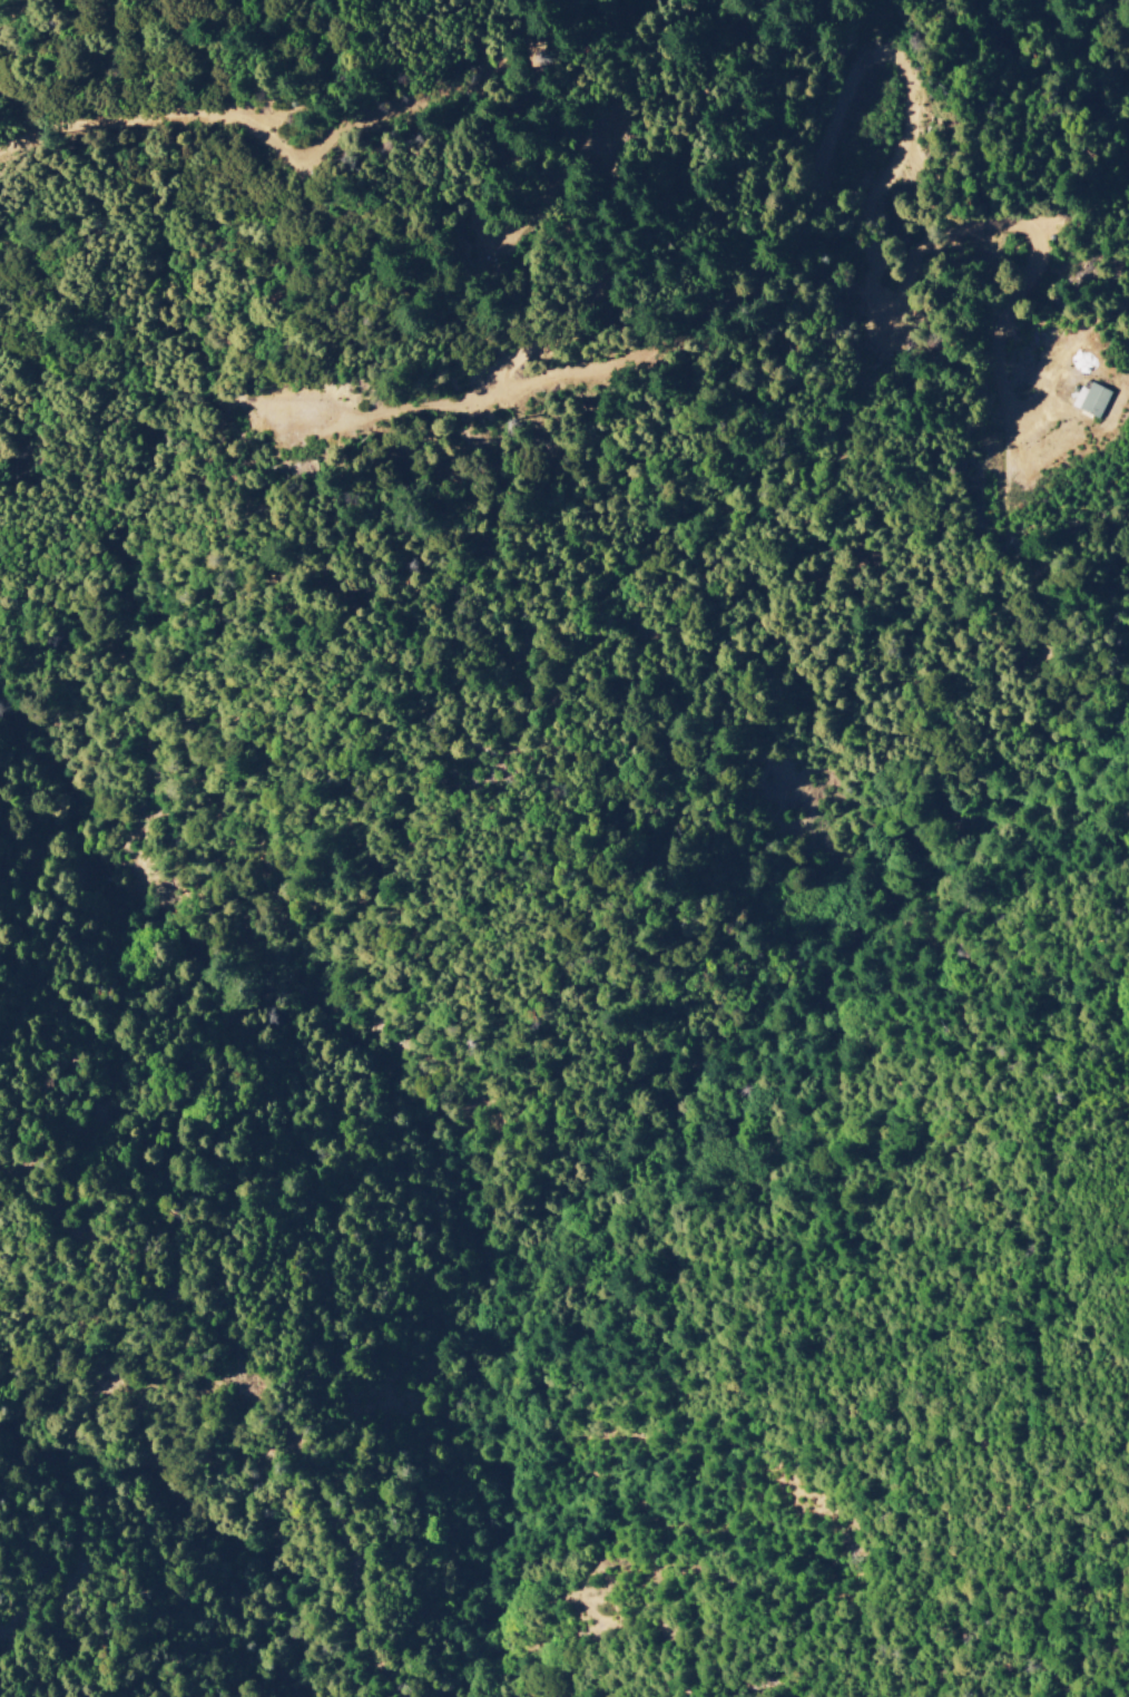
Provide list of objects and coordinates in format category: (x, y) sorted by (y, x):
building: (1091, 401)

